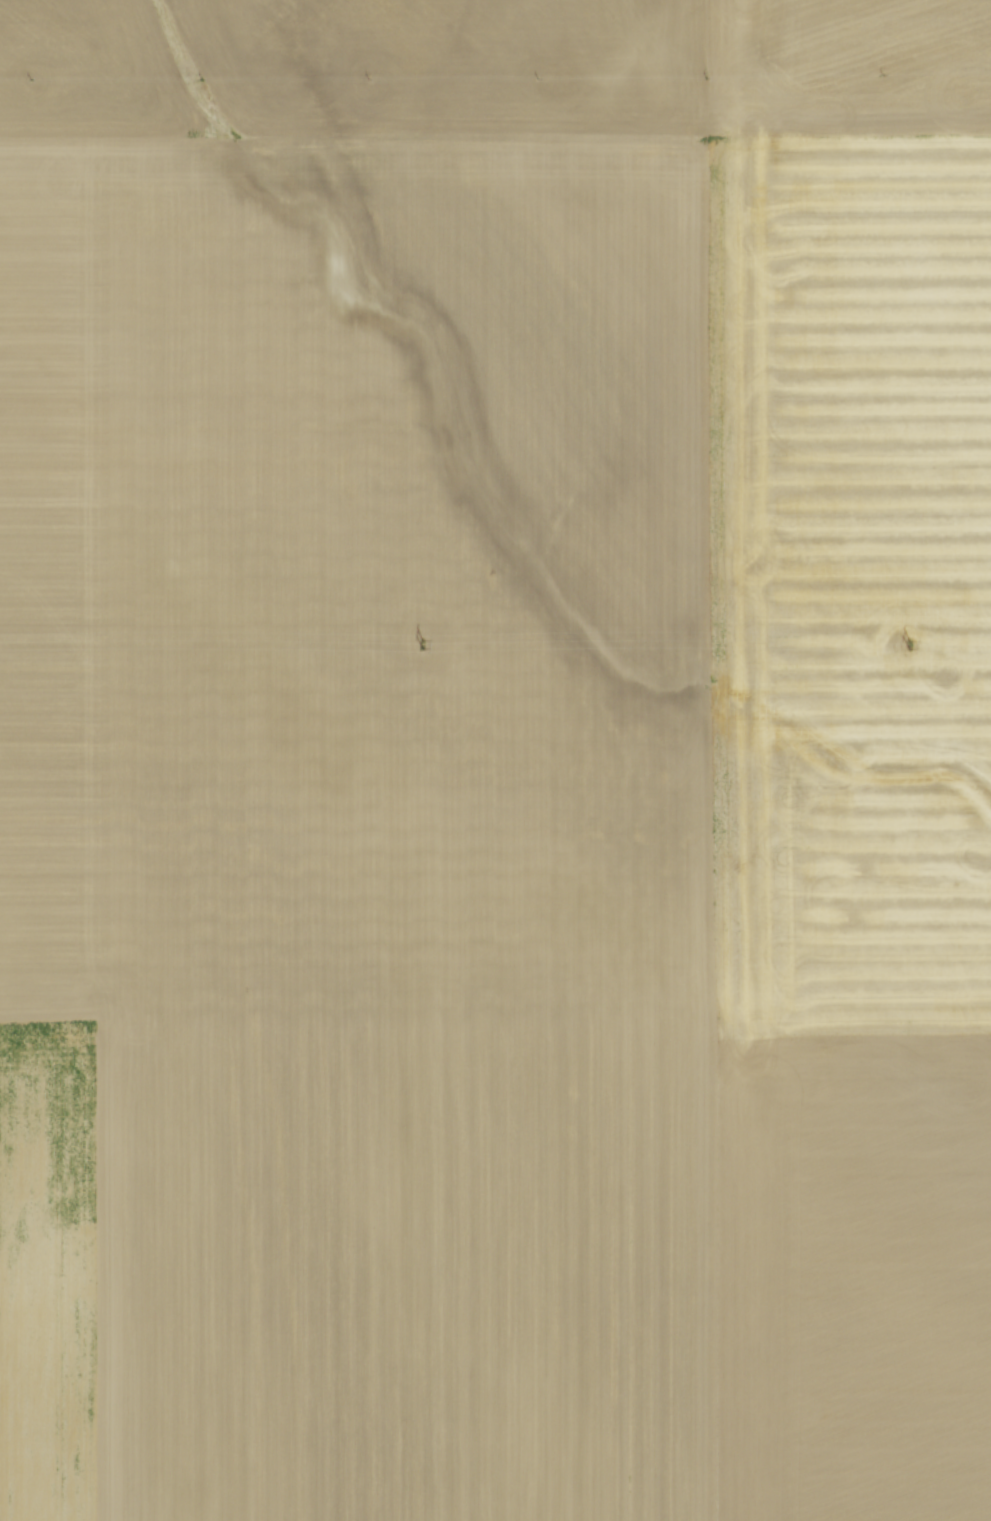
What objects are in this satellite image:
power tower: (422, 644)
power tower: (910, 645)
crop: (495, 760)

